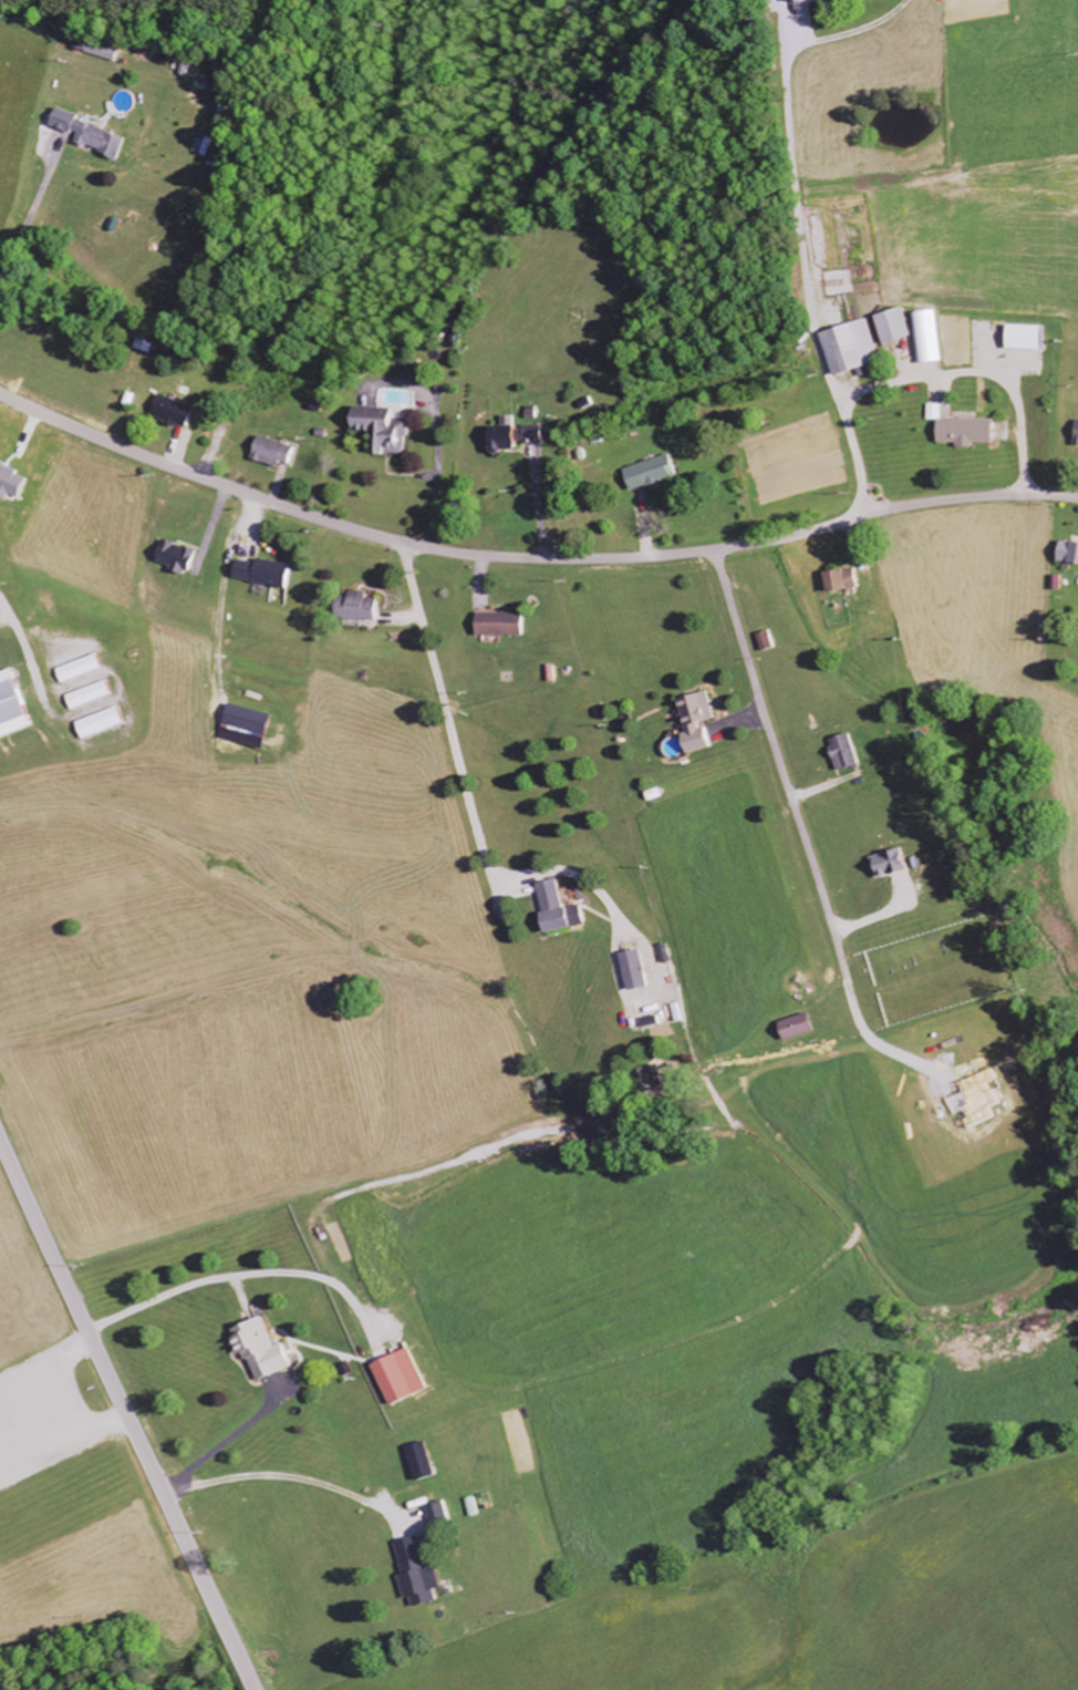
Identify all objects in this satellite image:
building: (789, 1)
building: (108, 51)
building: (211, 84)
building: (97, 135)
building: (887, 326)
building: (922, 337)
building: (1019, 337)
building: (844, 346)
building: (182, 412)
building: (386, 427)
building: (962, 432)
building: (1074, 433)
building: (519, 436)
building: (278, 452)
building: (644, 473)
building: (1066, 553)
building: (183, 557)
road: (527, 557)
building: (268, 574)
road: (721, 579)
building: (836, 579)
building: (371, 608)
building: (502, 625)
building: (1, 633)
building: (84, 669)
building: (94, 695)
building: (15, 707)
building: (690, 721)
building: (106, 723)
building: (253, 728)
building: (839, 752)
road: (789, 800)
building: (884, 863)
building: (548, 907)
building: (630, 970)
building: (789, 1028)
building: (260, 1350)
building: (397, 1378)
road: (126, 1413)
building: (418, 1462)
building: (413, 1572)

